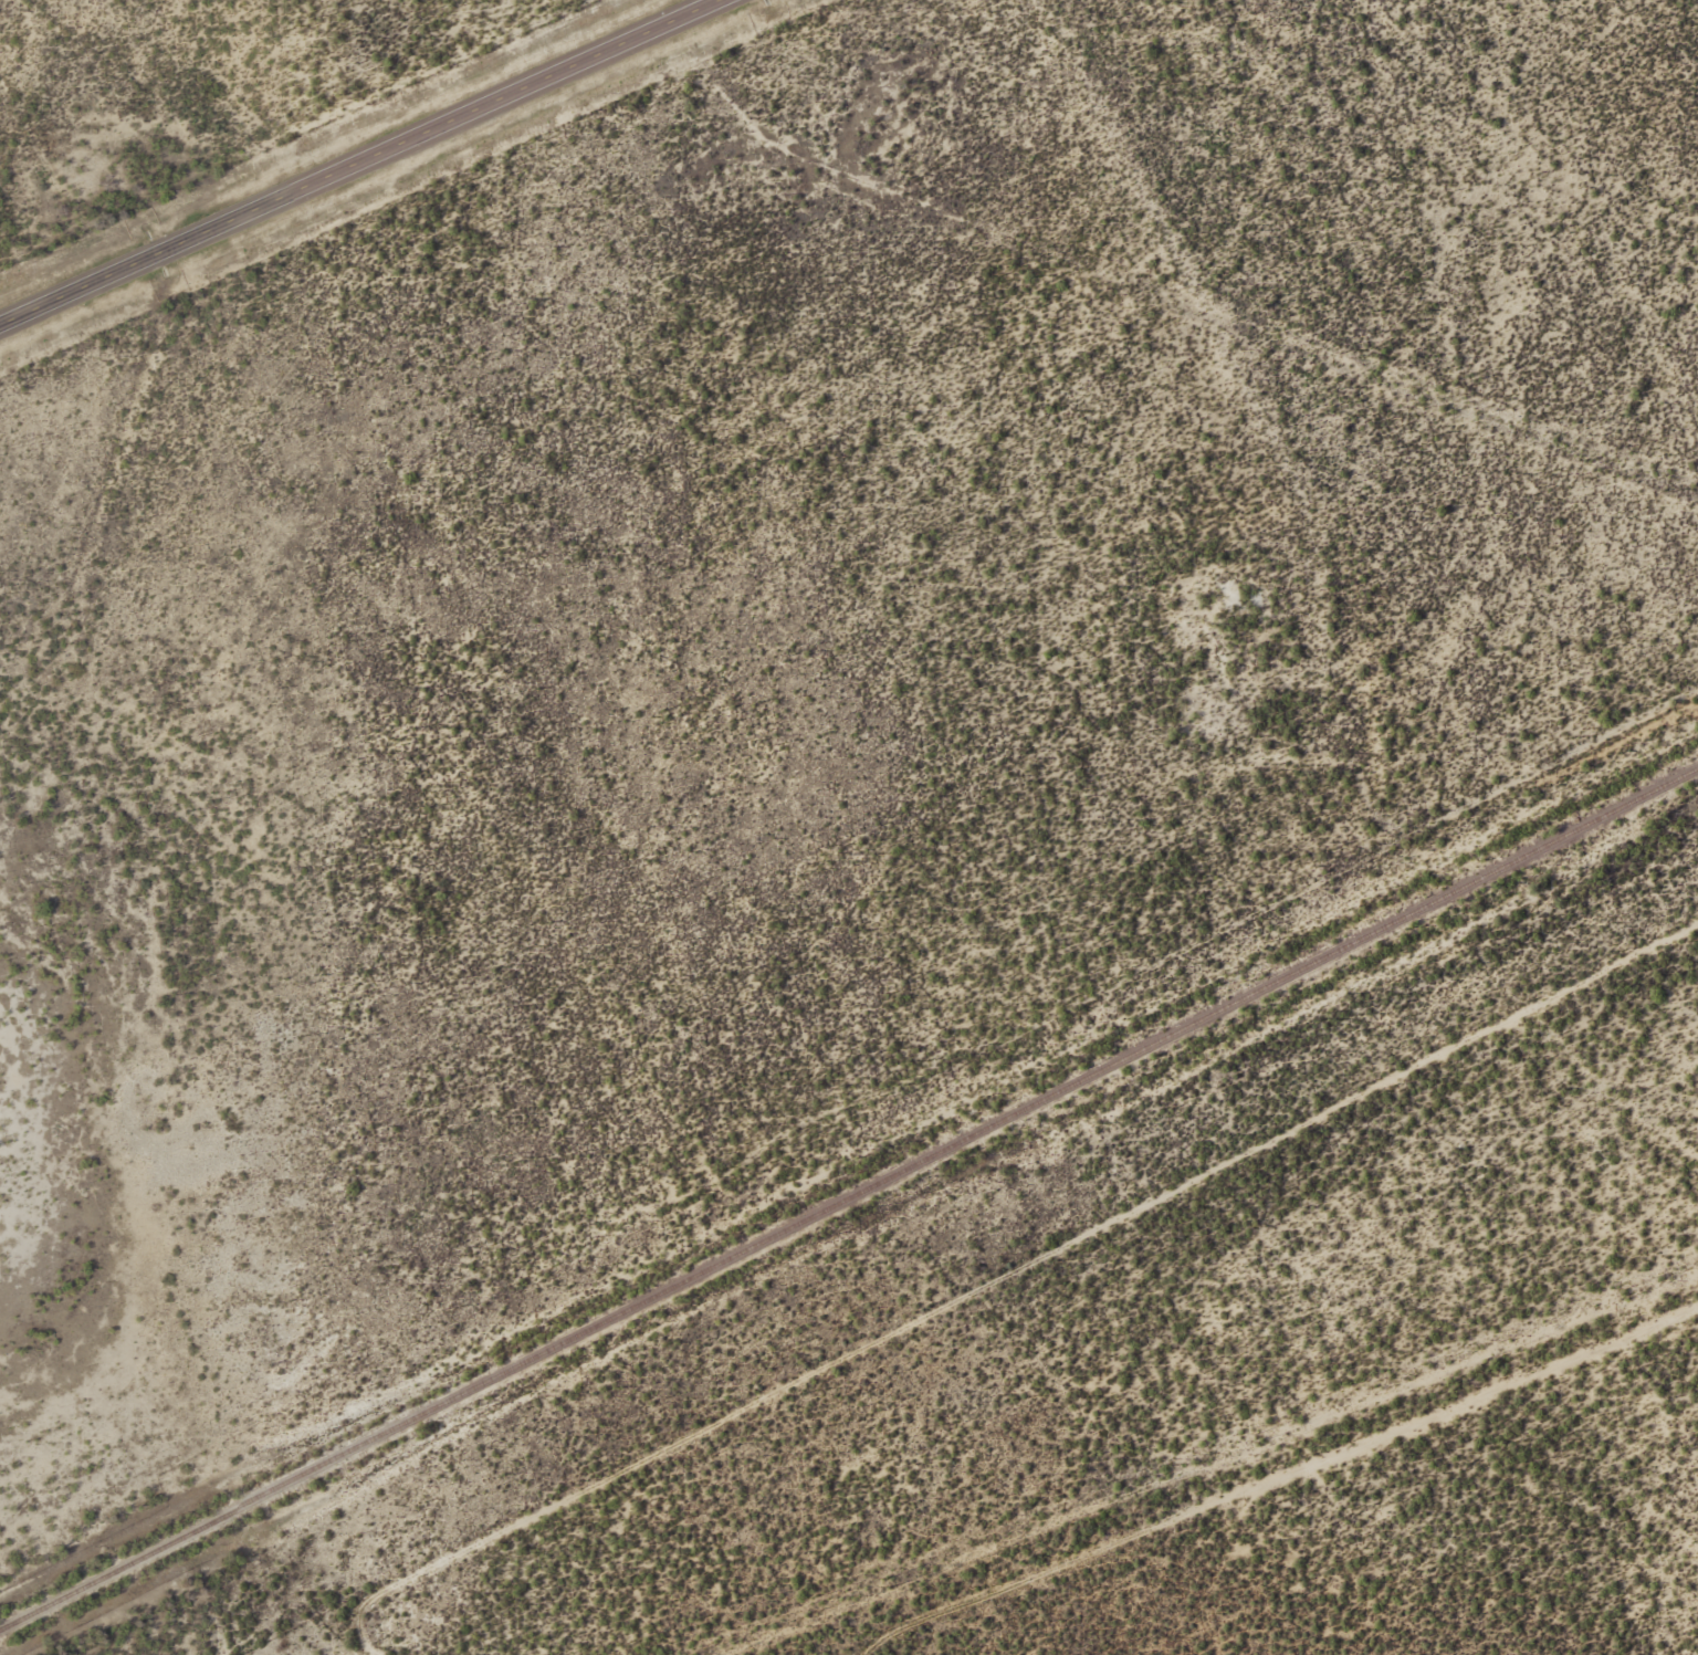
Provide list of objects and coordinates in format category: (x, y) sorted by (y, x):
road: (357, 163)
railway: (849, 1196)
power tower: (1625, 1293)
power tower: (1257, 1438)
power tower: (889, 1584)

